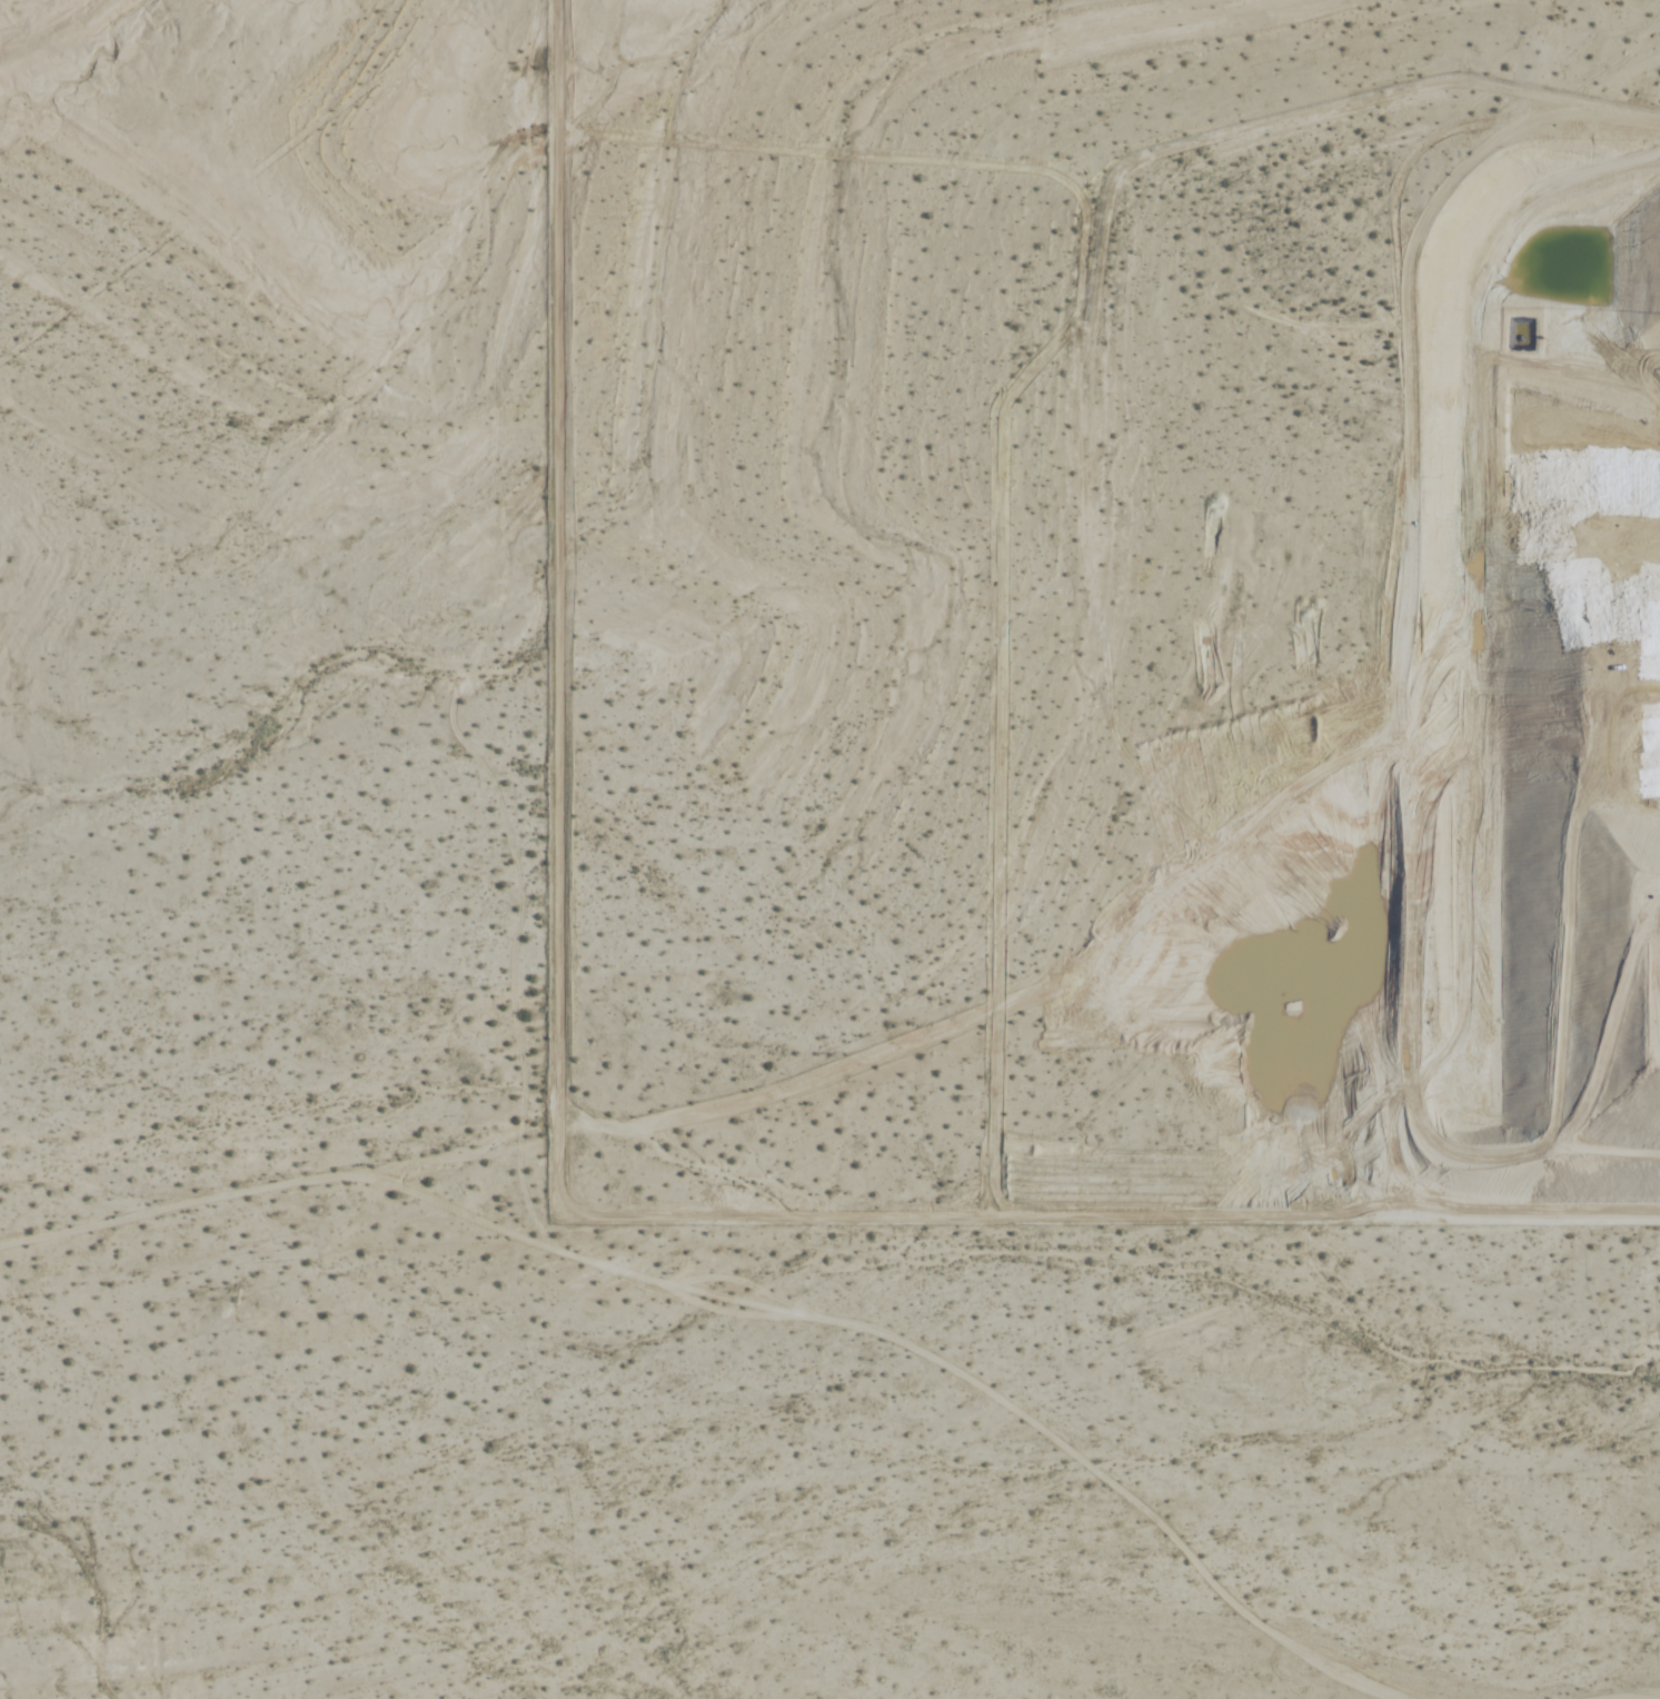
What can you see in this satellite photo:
landfill: (1530, 603)
road: (883, 1047)
road: (754, 1302)

